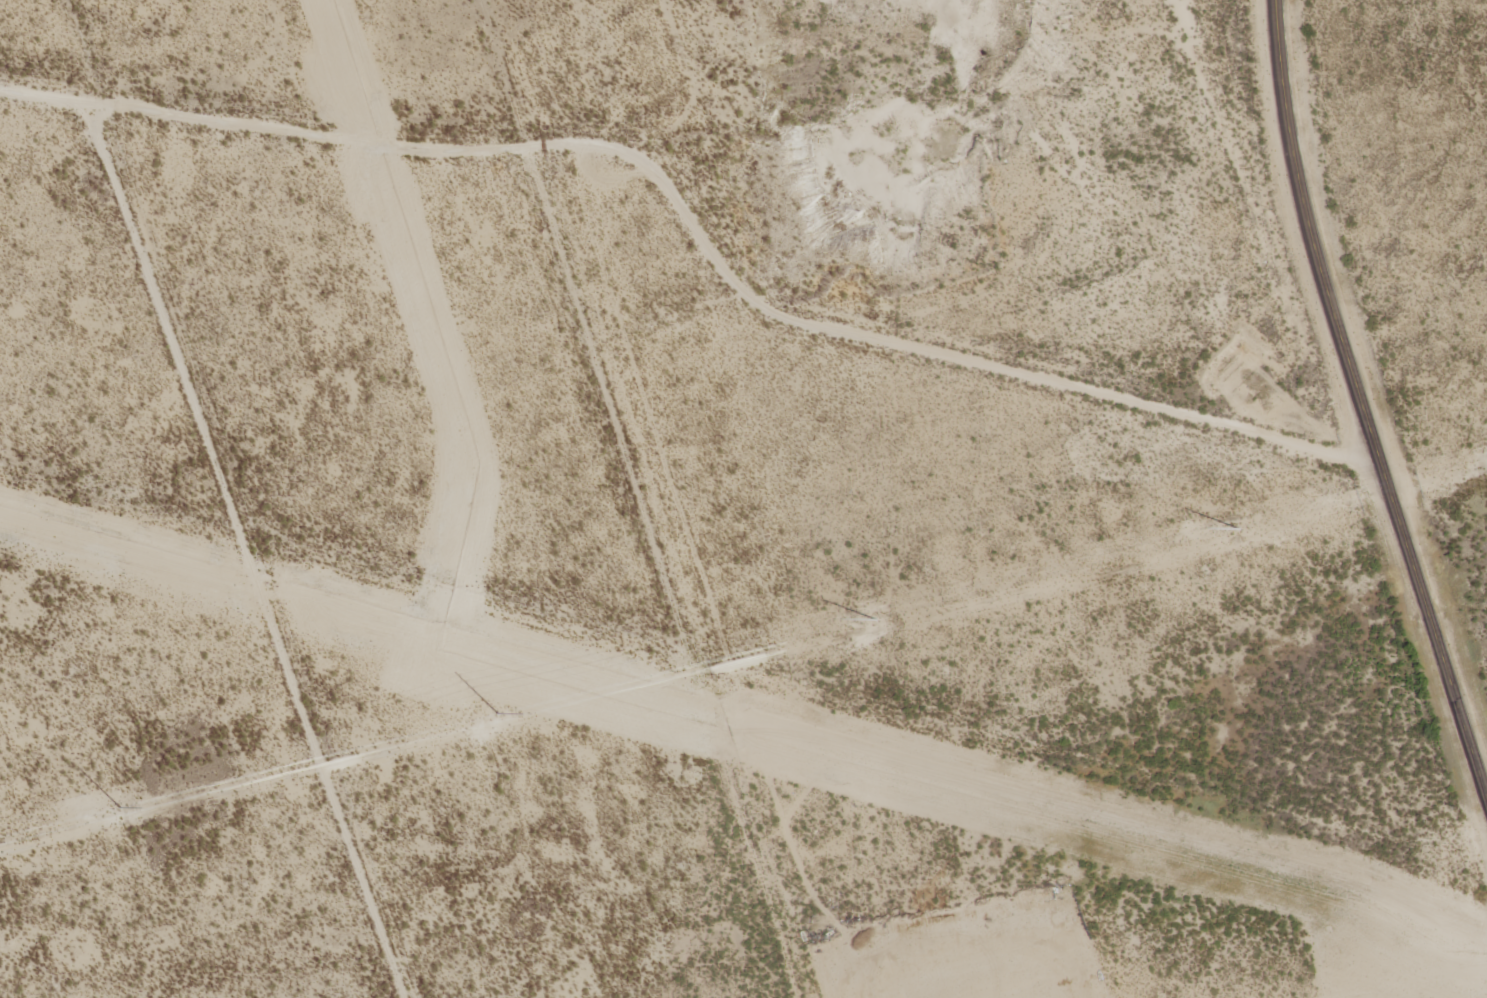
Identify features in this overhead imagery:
road: (701, 230)
road: (1232, 234)
road: (1364, 400)

